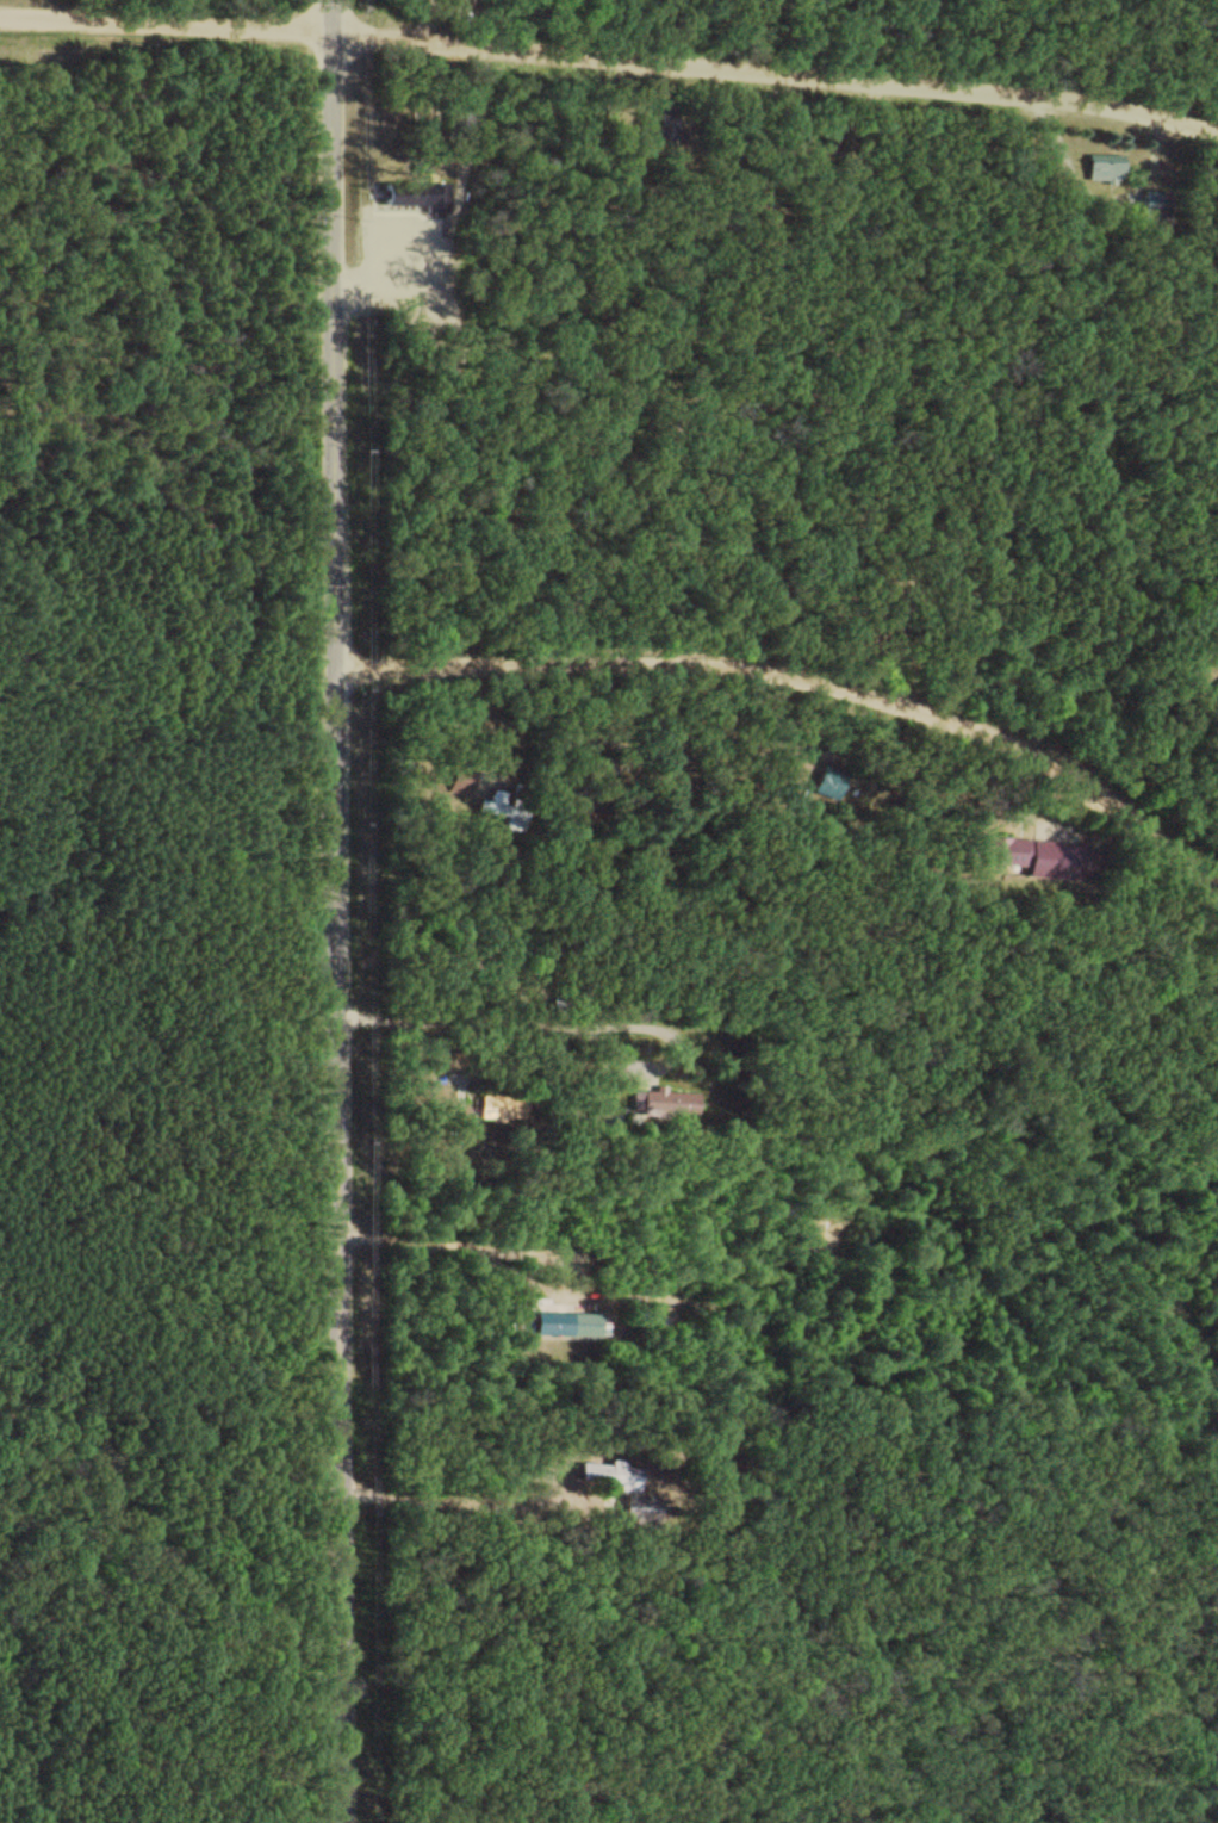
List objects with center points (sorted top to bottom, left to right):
road: (610, 57)
building: (1105, 165)
building: (1155, 204)
road: (807, 678)
building: (796, 770)
building: (503, 805)
building: (1014, 850)
building: (1048, 860)
road: (337, 911)
building: (561, 1004)
building: (666, 1100)
building: (460, 1116)
building: (585, 1322)
building: (613, 1474)
building: (640, 1513)

